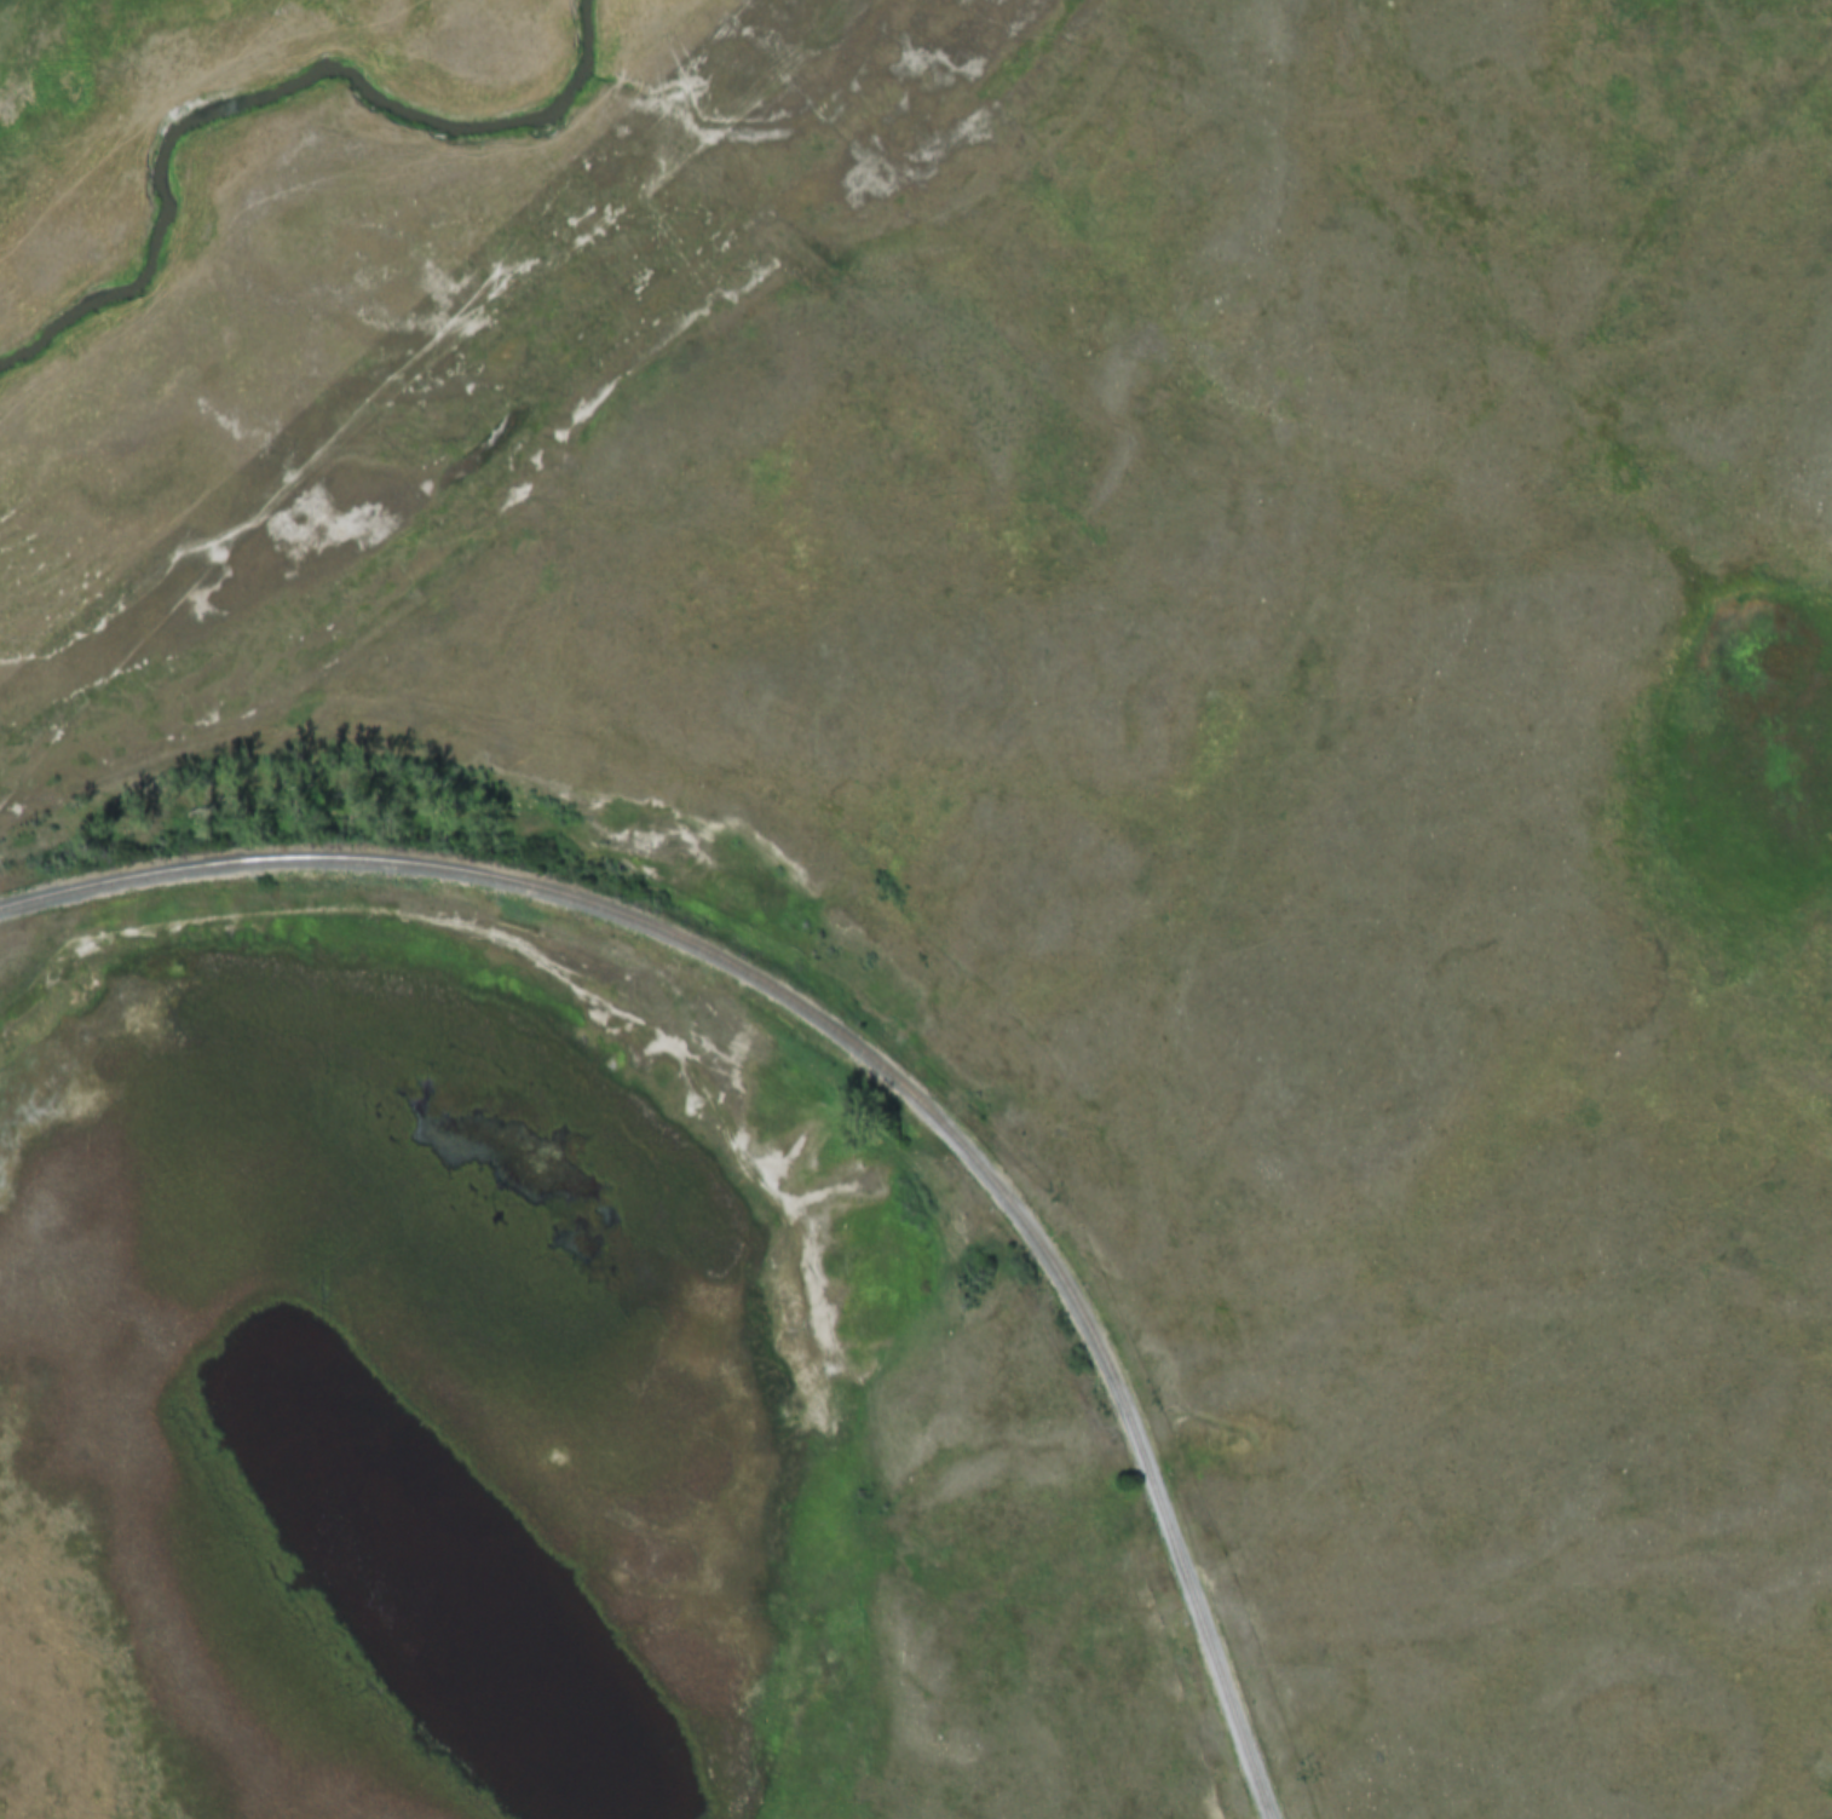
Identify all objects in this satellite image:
railway: (812, 1087)

